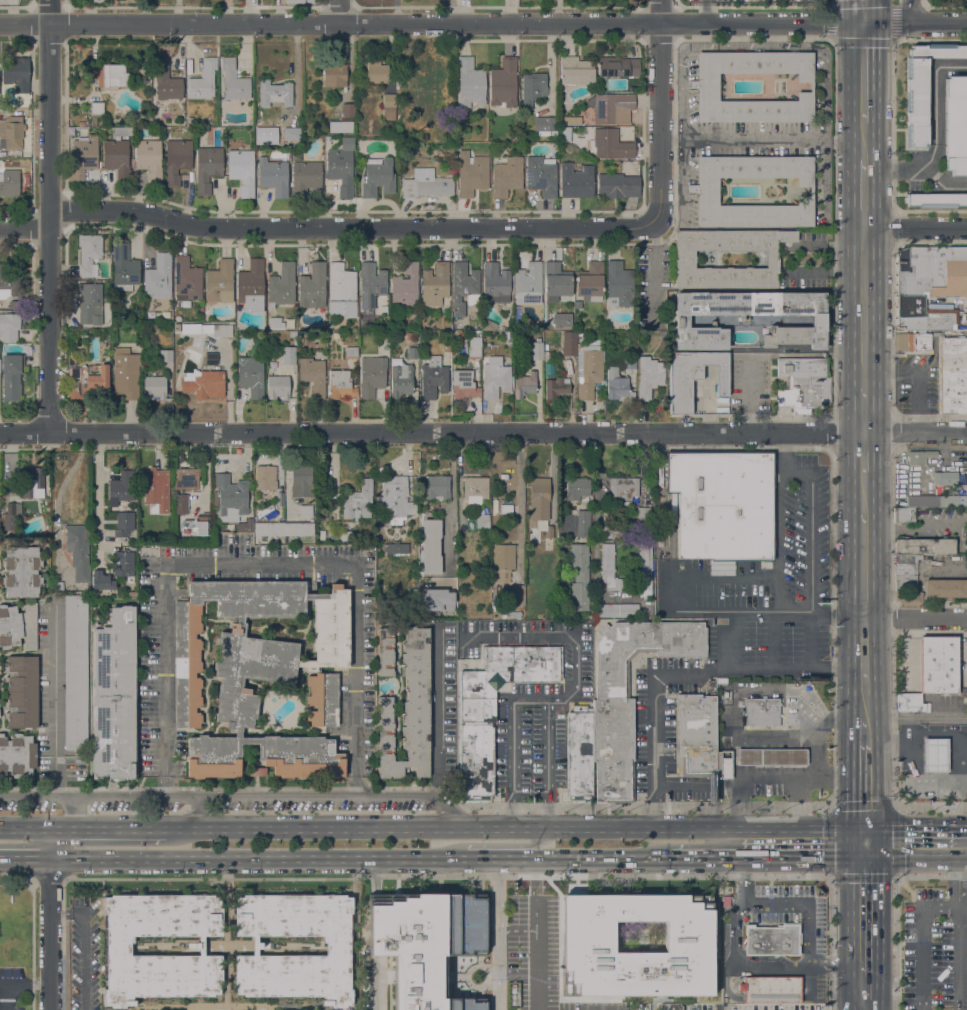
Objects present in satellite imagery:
building: (299, 1)
road: (894, 4)
road: (339, 11)
road: (707, 11)
road: (49, 12)
road: (863, 12)
road: (910, 12)
road: (508, 23)
road: (24, 24)
traffic signals: (863, 24)
building: (618, 67)
building: (376, 71)
building: (575, 71)
road: (862, 72)
building: (16, 73)
building: (109, 74)
building: (335, 76)
building: (203, 80)
building: (234, 81)
building: (165, 82)
building: (470, 83)
building: (504, 83)
building: (703, 85)
building: (532, 88)
building: (922, 88)
building: (275, 93)
building: (107, 97)
building: (389, 107)
building: (97, 108)
building: (613, 108)
building: (348, 109)
road: (659, 112)
building: (82, 123)
building: (548, 123)
building: (956, 124)
building: (341, 126)
building: (121, 131)
building: (12, 132)
building: (292, 135)
road: (935, 138)
building: (327, 139)
road: (862, 139)
road: (761, 142)
building: (610, 144)
building: (83, 157)
building: (117, 158)
building: (149, 159)
building: (177, 160)
building: (341, 166)
building: (208, 167)
building: (242, 170)
building: (472, 173)
building: (541, 175)
building: (273, 176)
building: (506, 176)
building: (378, 177)
building: (305, 178)
building: (576, 181)
road: (947, 183)
building: (619, 184)
building: (10, 185)
building: (427, 185)
building: (703, 189)
road: (863, 194)
building: (936, 200)
road: (49, 228)
road: (915, 228)
road: (24, 229)
road: (349, 229)
building: (89, 253)
building: (686, 259)
building: (124, 267)
road: (657, 272)
building: (159, 276)
building: (187, 279)
building: (372, 280)
building: (557, 281)
building: (590, 281)
building: (220, 282)
building: (435, 283)
building: (496, 283)
building: (528, 284)
building: (619, 284)
building: (10, 285)
building: (282, 285)
building: (251, 286)
building: (406, 286)
building: (929, 286)
building: (313, 287)
building: (464, 287)
building: (342, 290)
building: (90, 303)
building: (577, 304)
road: (863, 307)
building: (681, 322)
building: (275, 323)
building: (489, 325)
building: (9, 326)
building: (207, 329)
building: (293, 334)
building: (447, 334)
building: (336, 335)
building: (509, 335)
building: (409, 336)
building: (912, 342)
building: (569, 343)
building: (952, 344)
building: (475, 347)
building: (535, 349)
building: (351, 352)
building: (413, 353)
building: (288, 355)
building: (548, 356)
building: (165, 357)
building: (210, 358)
building: (952, 359)
building: (629, 362)
building: (549, 369)
building: (589, 369)
building: (560, 370)
road: (920, 372)
building: (126, 373)
building: (952, 374)
building: (372, 375)
building: (12, 376)
building: (251, 376)
building: (313, 376)
building: (434, 377)
building: (648, 377)
building: (693, 377)
building: (400, 378)
building: (495, 378)
building: (87, 381)
building: (204, 384)
building: (524, 384)
building: (804, 384)
building: (340, 385)
building: (464, 385)
building: (617, 386)
building: (277, 387)
building: (556, 387)
building: (155, 388)
building: (952, 388)
building: (952, 404)
road: (863, 409)
road: (483, 432)
road: (863, 454)
building: (919, 457)
road: (552, 476)
building: (187, 478)
building: (266, 478)
building: (945, 478)
building: (302, 479)
road: (62, 481)
building: (33, 483)
road: (520, 485)
building: (122, 486)
building: (156, 487)
building: (437, 488)
building: (476, 489)
building: (578, 489)
building: (624, 490)
road: (452, 494)
road: (864, 495)
building: (230, 497)
building: (395, 498)
building: (539, 499)
building: (358, 501)
building: (936, 501)
building: (260, 502)
building: (180, 504)
building: (723, 504)
building: (672, 506)
building: (645, 513)
building: (903, 515)
building: (11, 516)
building: (483, 518)
building: (124, 523)
building: (611, 524)
building: (245, 525)
building: (583, 525)
building: (197, 526)
building: (269, 529)
building: (298, 529)
building: (548, 531)
building: (345, 536)
road: (809, 538)
building: (431, 546)
building: (471, 546)
building: (924, 546)
building: (396, 547)
building: (78, 552)
building: (907, 558)
building: (504, 561)
building: (123, 563)
road: (262, 564)
road: (864, 567)
building: (610, 569)
building: (22, 571)
building: (645, 571)
building: (579, 577)
building: (102, 581)
building: (906, 583)
building: (946, 588)
building: (517, 595)
road: (675, 596)
building: (437, 599)
building: (616, 610)
building: (514, 613)
road: (915, 621)
building: (18, 626)
road: (893, 628)
road: (833, 629)
road: (811, 639)
building: (386, 651)
road: (864, 658)
building: (938, 664)
road: (685, 671)
building: (76, 672)
building: (259, 675)
road: (55, 680)
building: (722, 681)
building: (22, 691)
building: (114, 694)
road: (529, 700)
building: (910, 703)
road: (864, 707)
building: (408, 711)
building: (762, 712)
road: (915, 717)
road: (818, 725)
road: (907, 726)
building: (613, 730)
road: (865, 731)
building: (697, 734)
road: (959, 734)
building: (580, 752)
building: (934, 754)
building: (17, 755)
gas station: (935, 755)
building: (770, 756)
gas station: (772, 757)
building: (476, 759)
building: (719, 765)
road: (907, 767)
building: (257, 772)
road: (55, 775)
road: (763, 775)
road: (863, 784)
road: (418, 787)
road: (235, 795)
road: (863, 806)
road: (931, 806)
road: (75, 810)
road: (796, 817)
road: (355, 825)
road: (107, 826)
road: (704, 826)
traffic signals: (863, 826)
road: (25, 827)
road: (911, 827)
road: (963, 827)
road: (51, 841)
road: (537, 841)
road: (863, 842)
road: (25, 855)
road: (256, 855)
road: (493, 857)
road: (599, 857)
road: (708, 858)
road: (802, 858)
road: (915, 858)
traffic signals: (863, 859)
road: (440, 876)
road: (742, 880)
road: (18, 883)
building: (726, 901)
road: (962, 908)
road: (60, 912)
road: (861, 912)
road: (809, 914)
road: (50, 932)
road: (494, 933)
road: (735, 933)
road: (958, 933)
building: (587, 937)
building: (773, 940)
building: (426, 943)
road: (896, 943)
road: (923, 944)
building: (118, 951)
building: (339, 951)
road: (528, 951)
road: (85, 956)
road: (772, 966)
road: (835, 966)
road: (861, 970)
road: (726, 982)
road: (15, 983)
road: (862, 985)
road: (378, 988)
building: (771, 989)
building: (512, 994)
road: (862, 1004)
building: (671, 1007)

